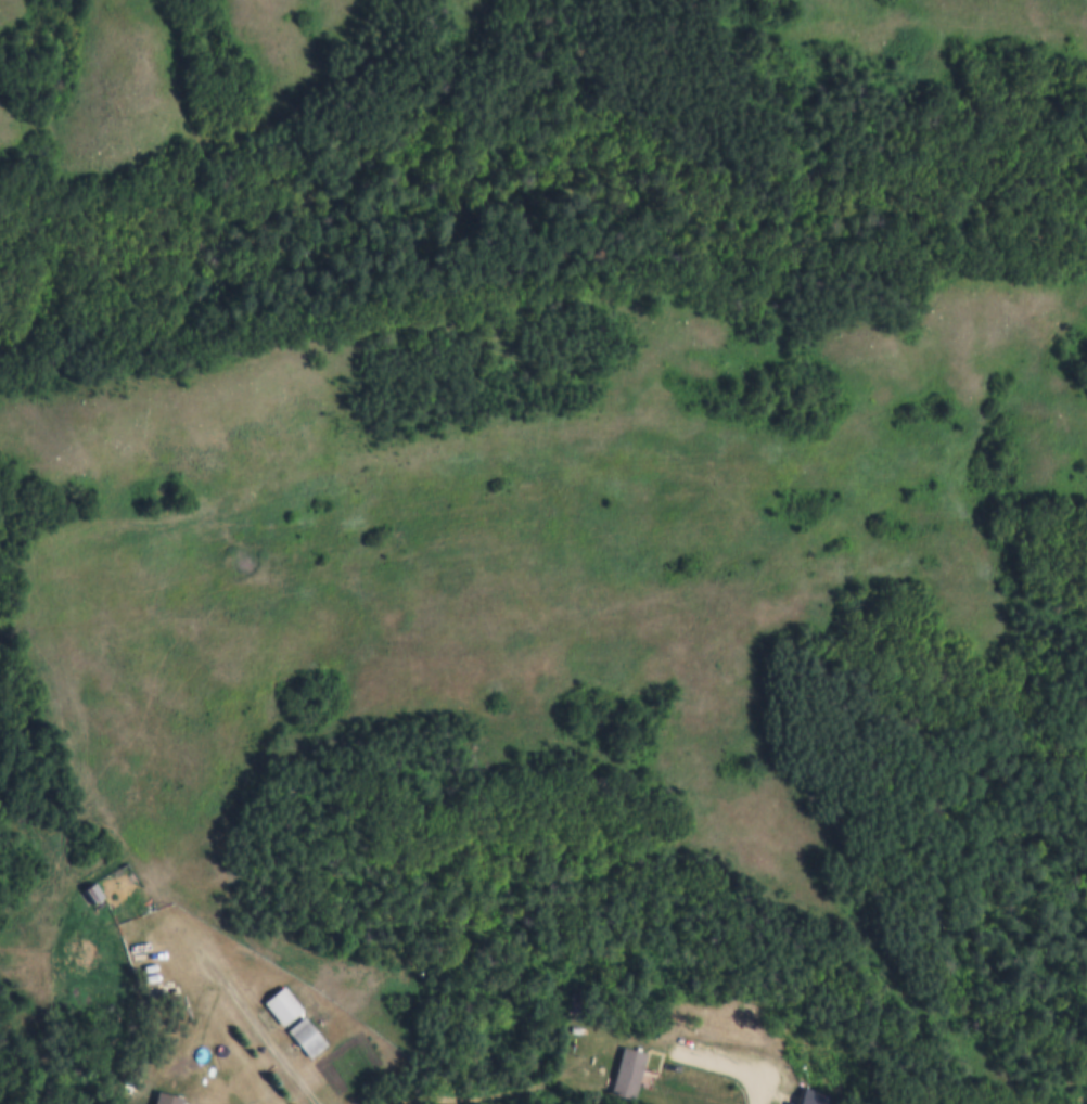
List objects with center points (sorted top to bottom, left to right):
building: (90, 889)
building: (159, 973)
building: (306, 1034)
building: (628, 1073)
building: (814, 1095)
building: (166, 1097)

